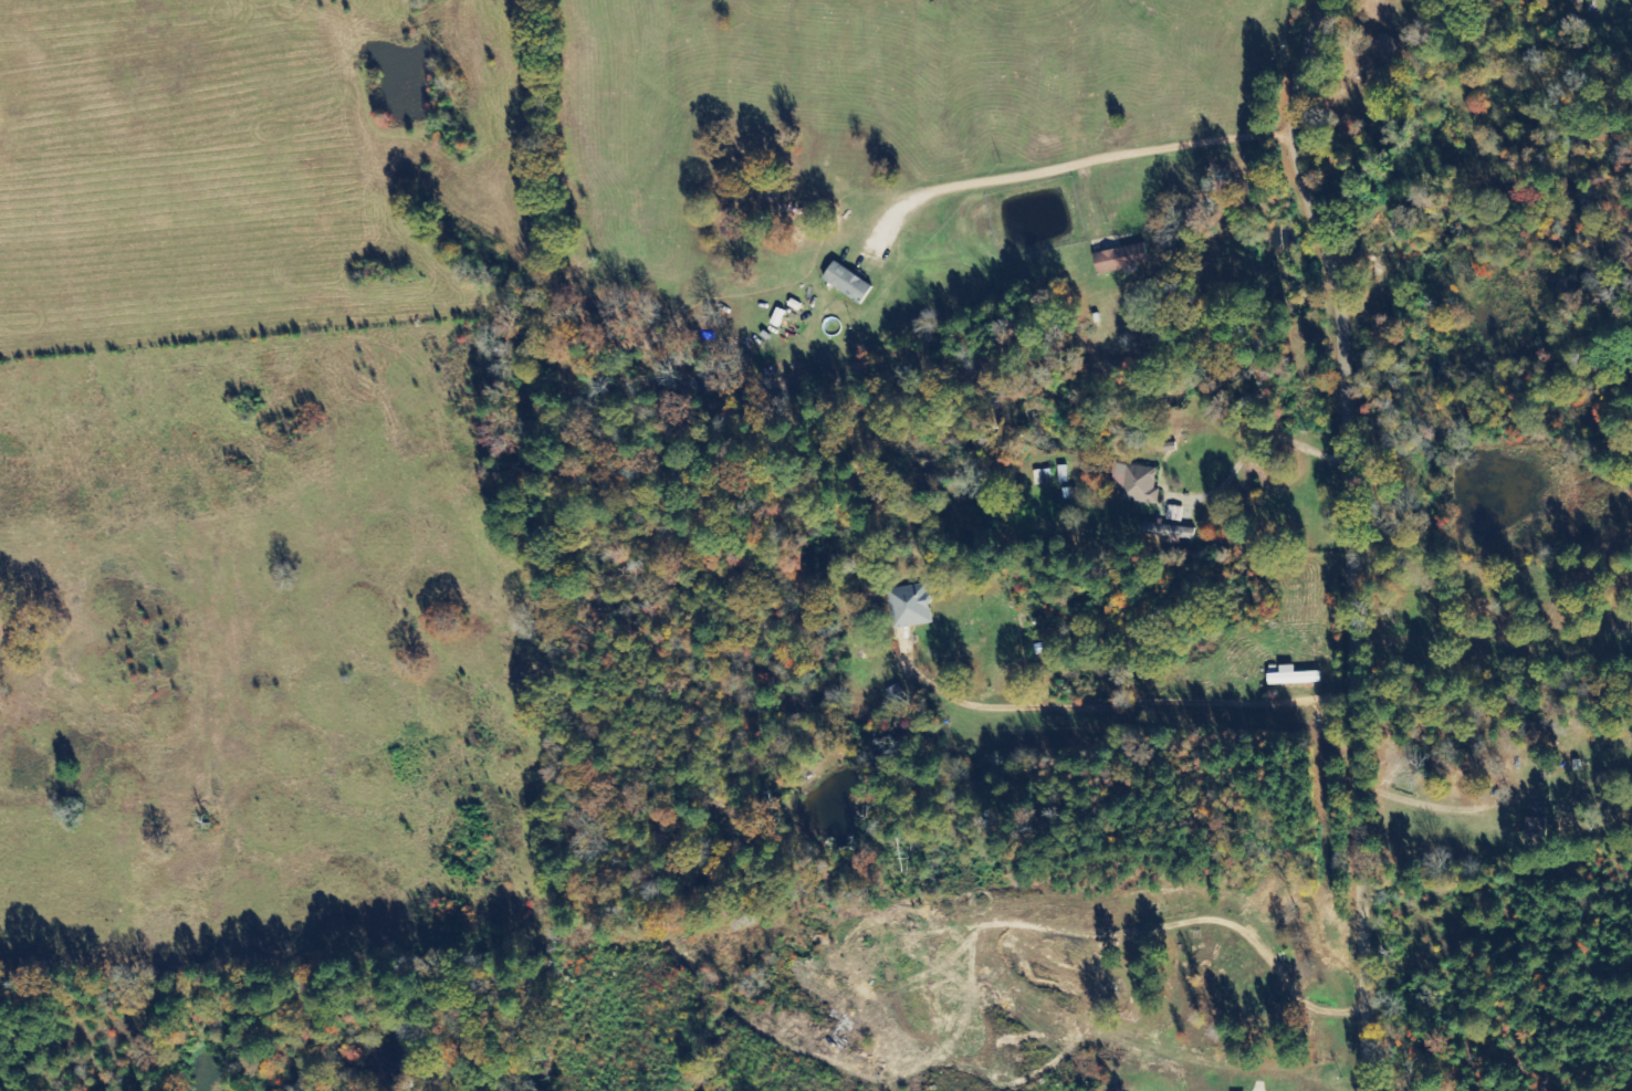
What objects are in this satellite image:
building: (1385, 48)
building: (1121, 259)
building: (847, 283)
building: (1134, 482)
building: (1168, 531)
road: (1356, 541)
building: (909, 606)
building: (1293, 676)

